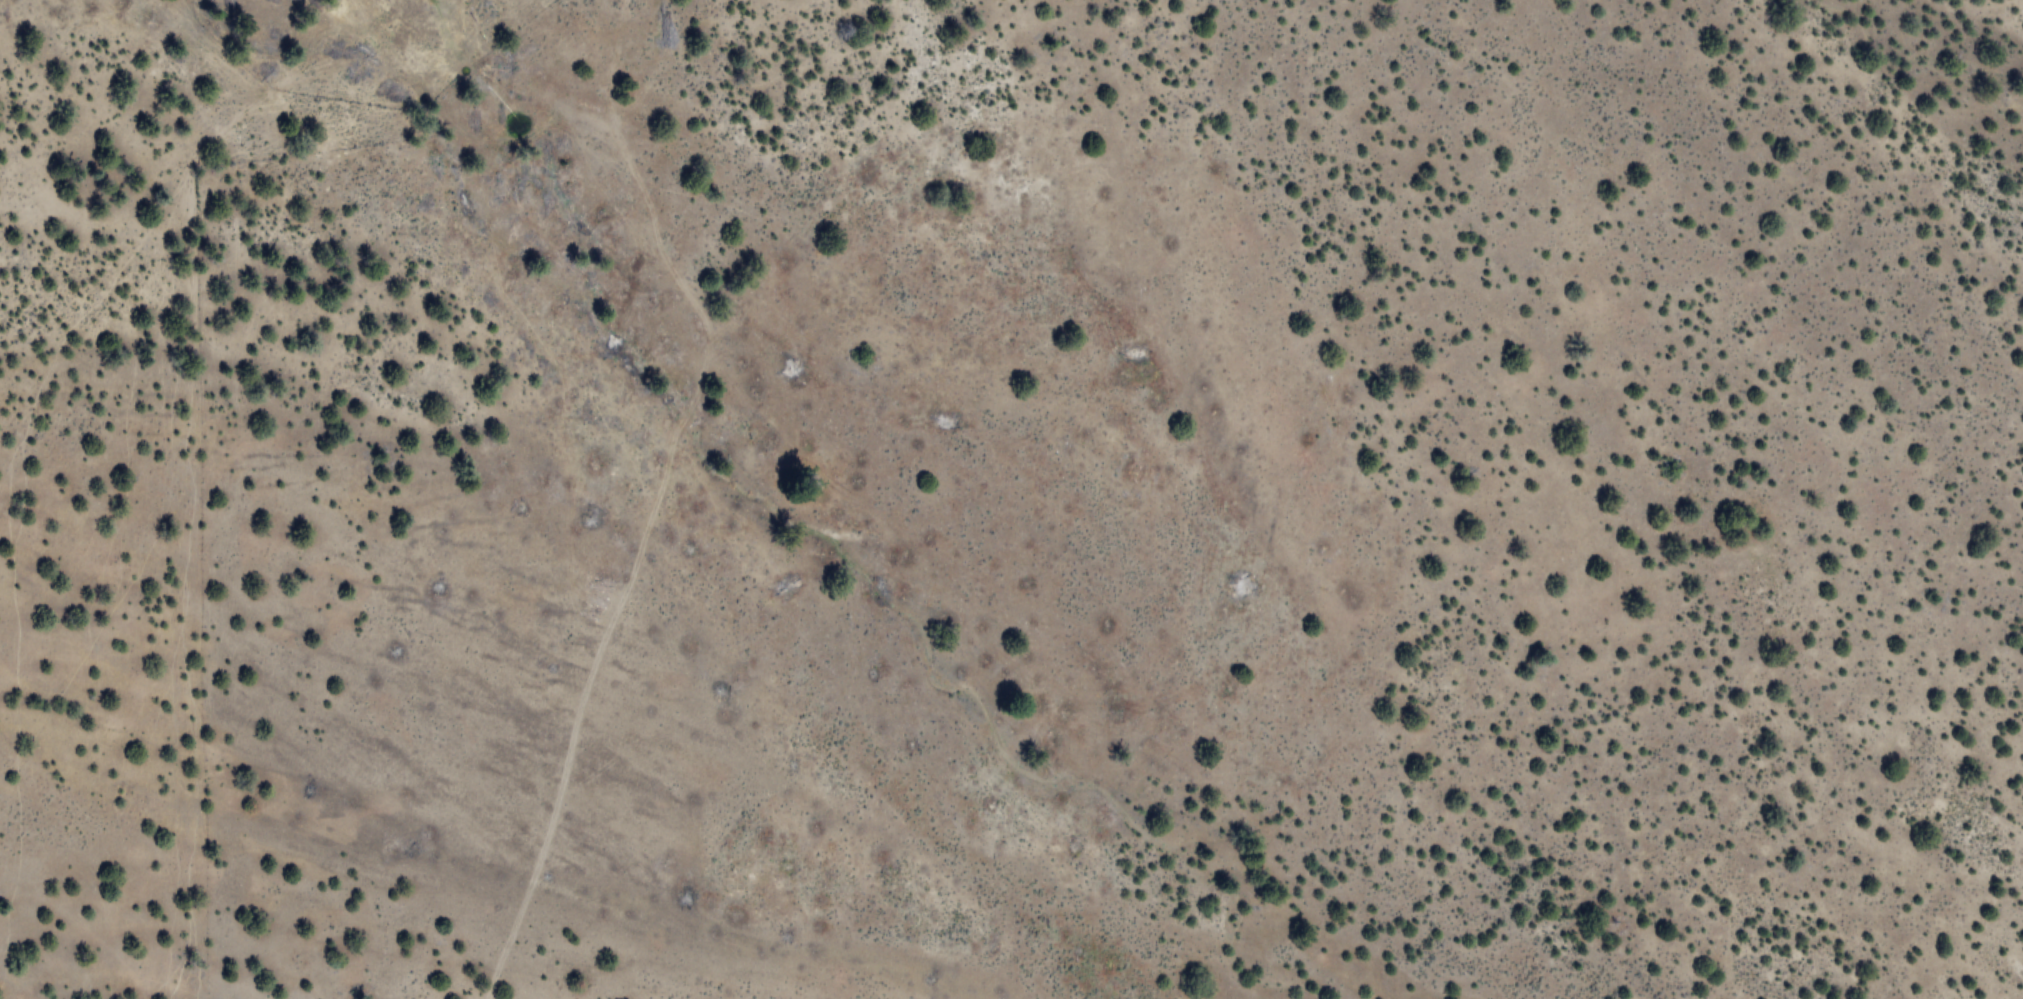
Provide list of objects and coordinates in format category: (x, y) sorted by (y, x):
road: (675, 457)

